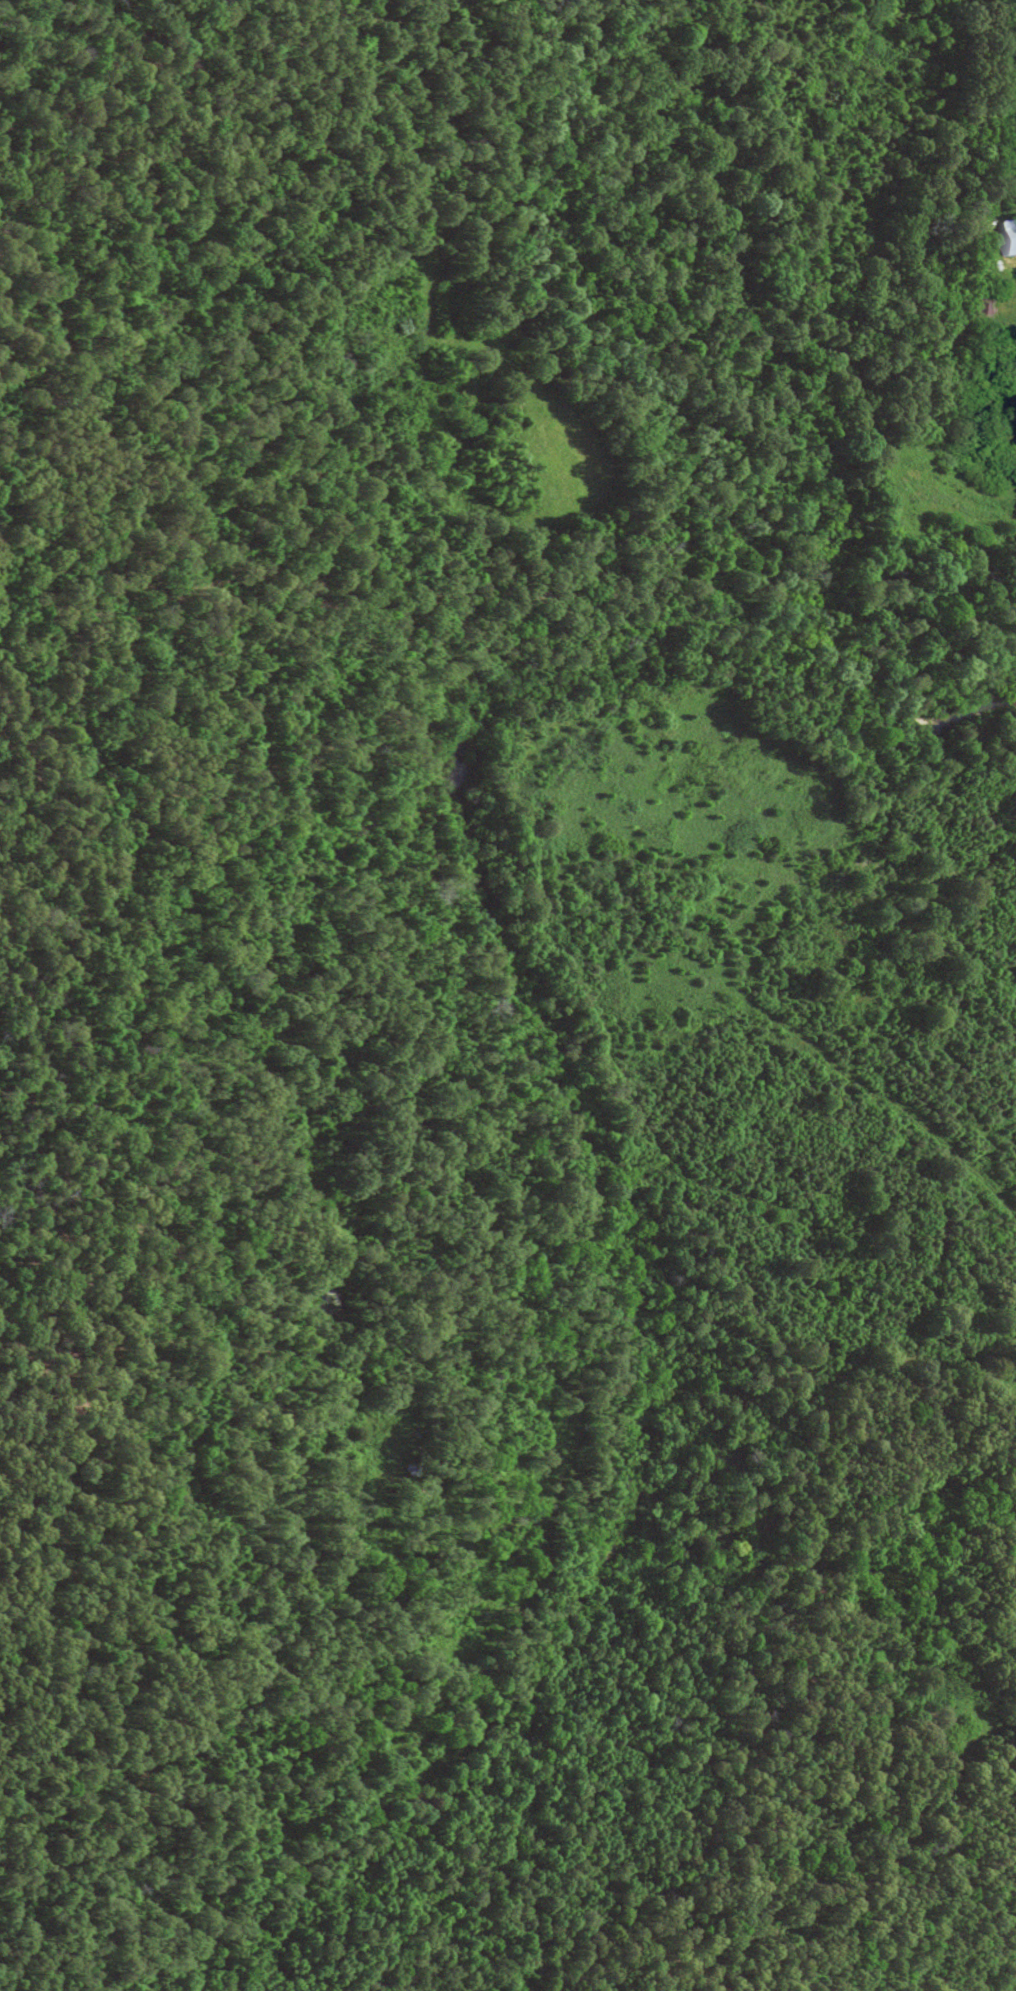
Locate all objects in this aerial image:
building: (986, 313)

